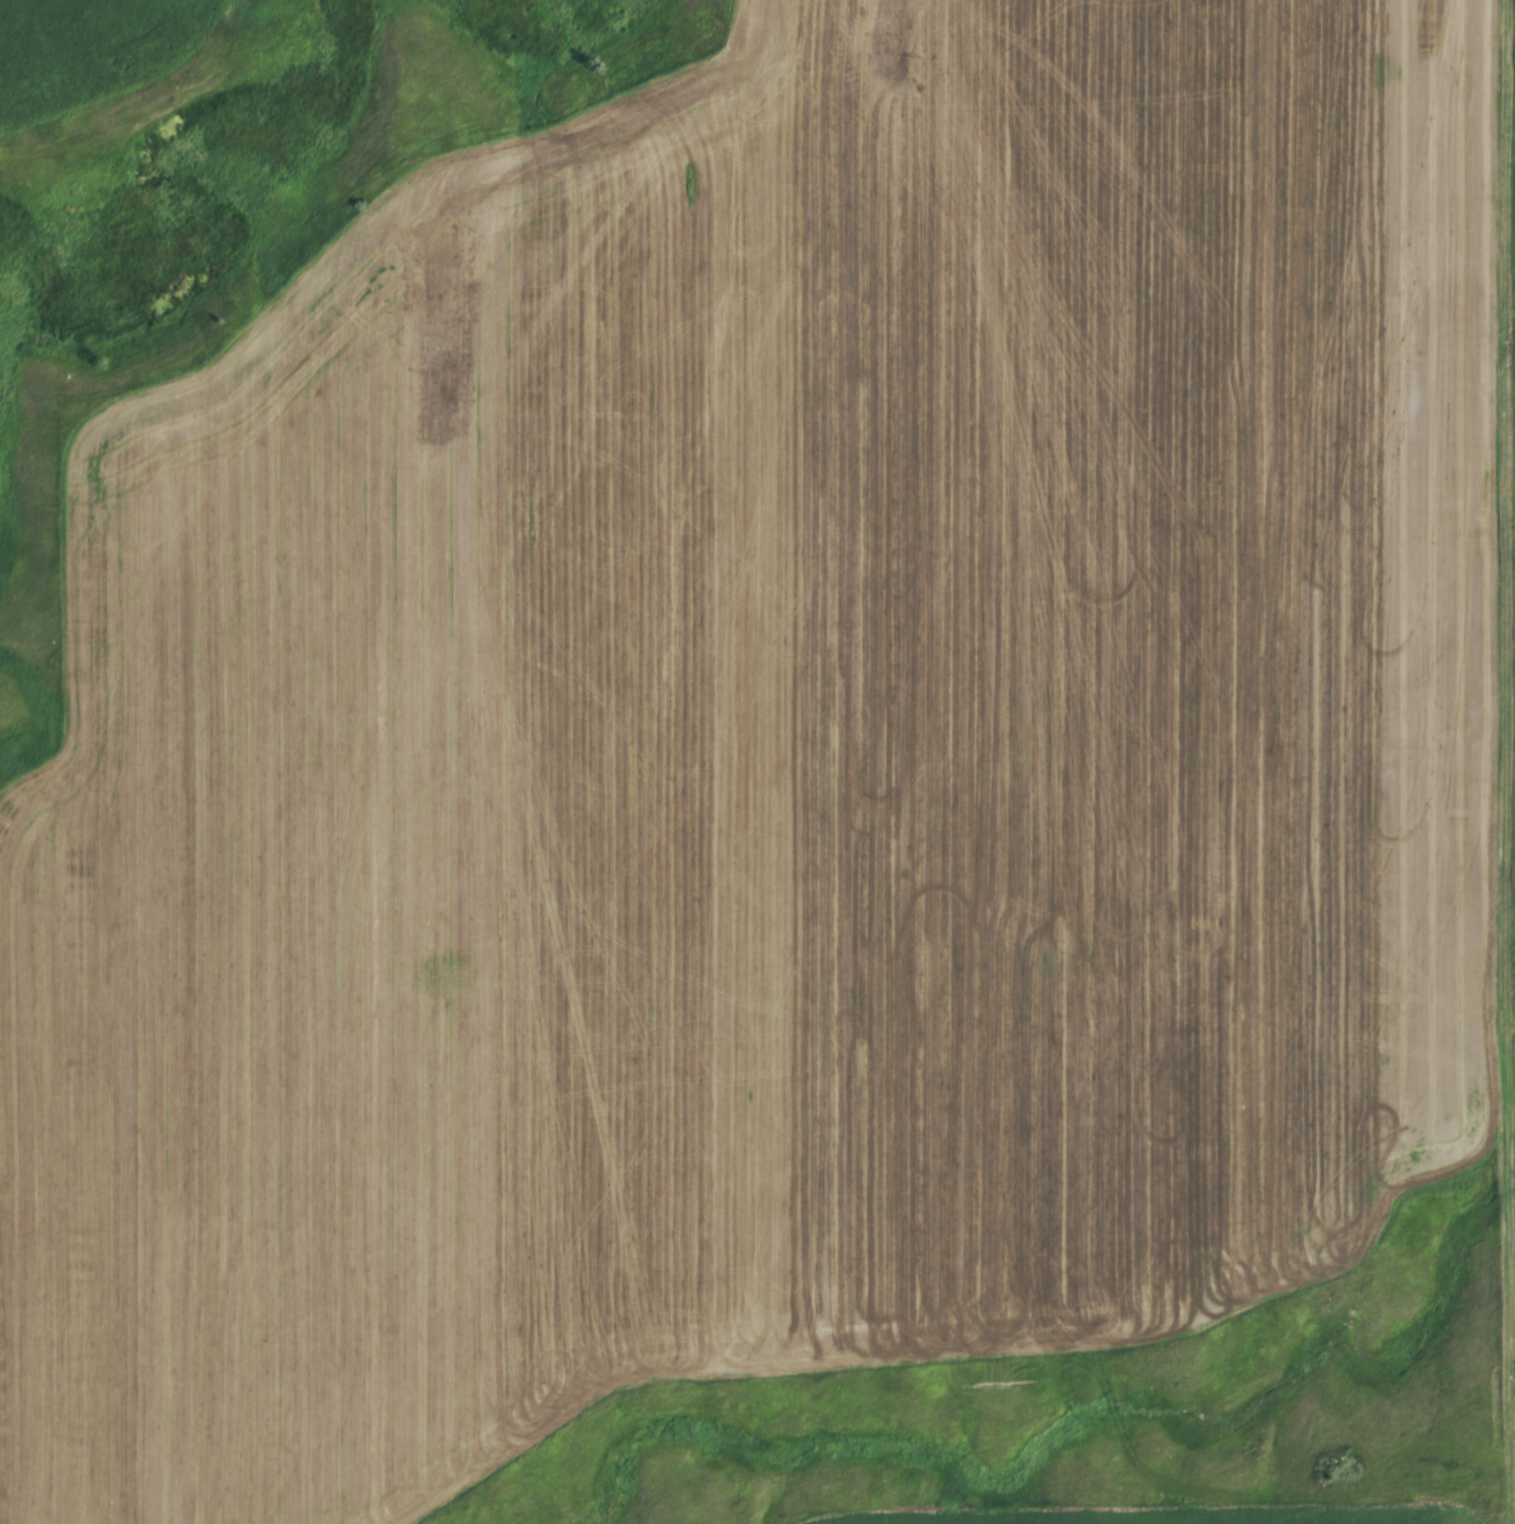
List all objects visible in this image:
building: (1505, 574)
road: (1501, 762)

